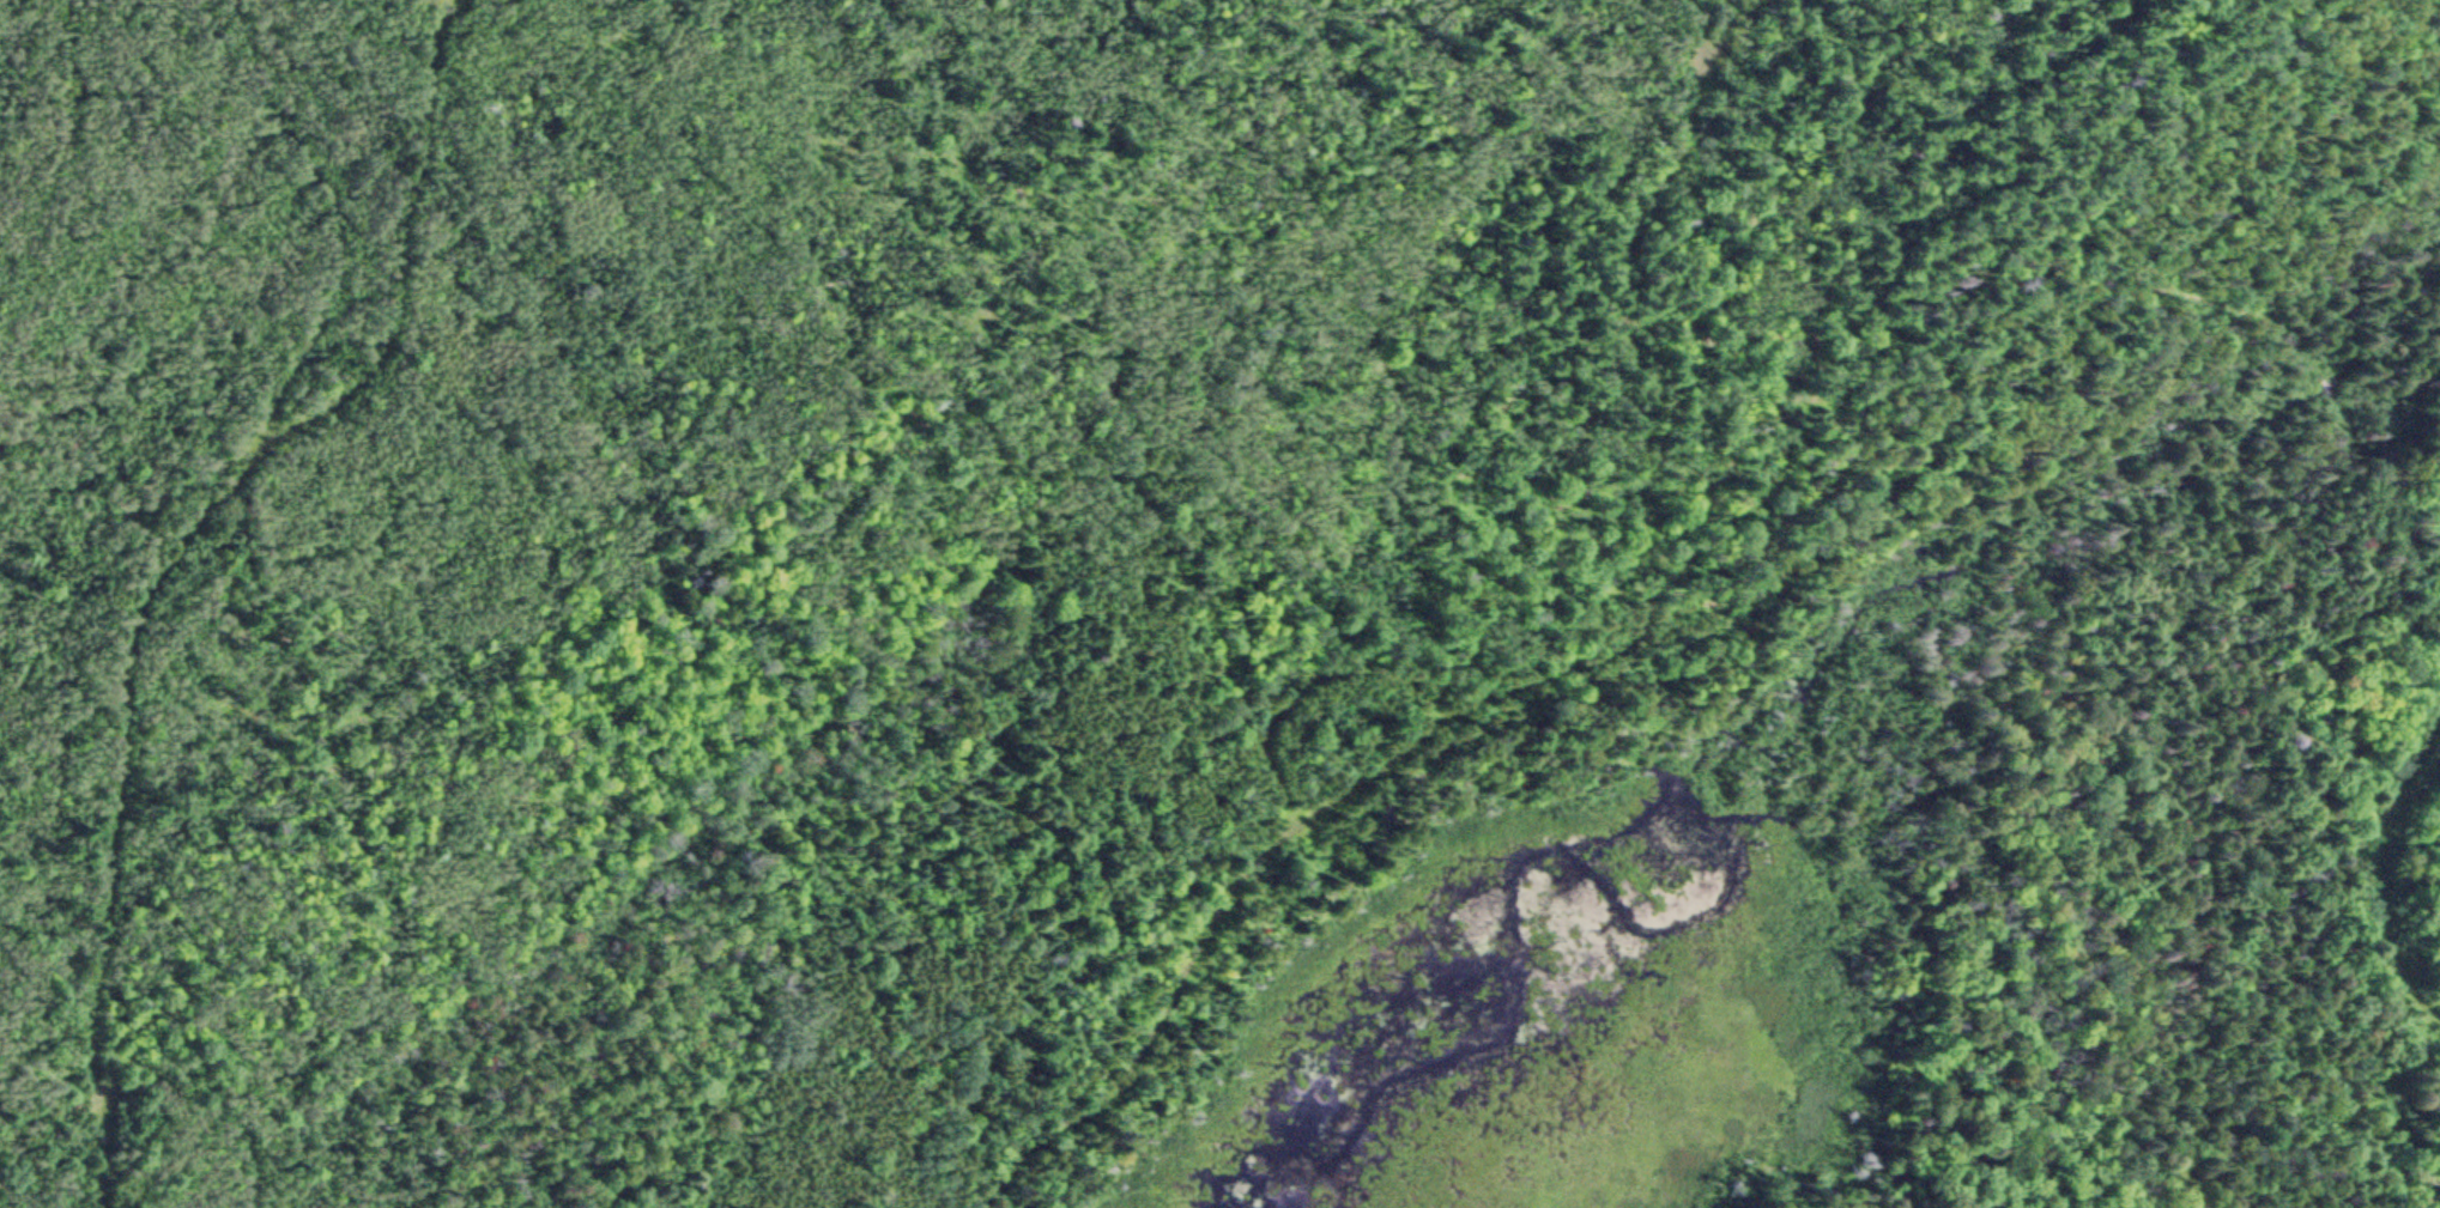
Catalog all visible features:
road: (1007, 1143)

